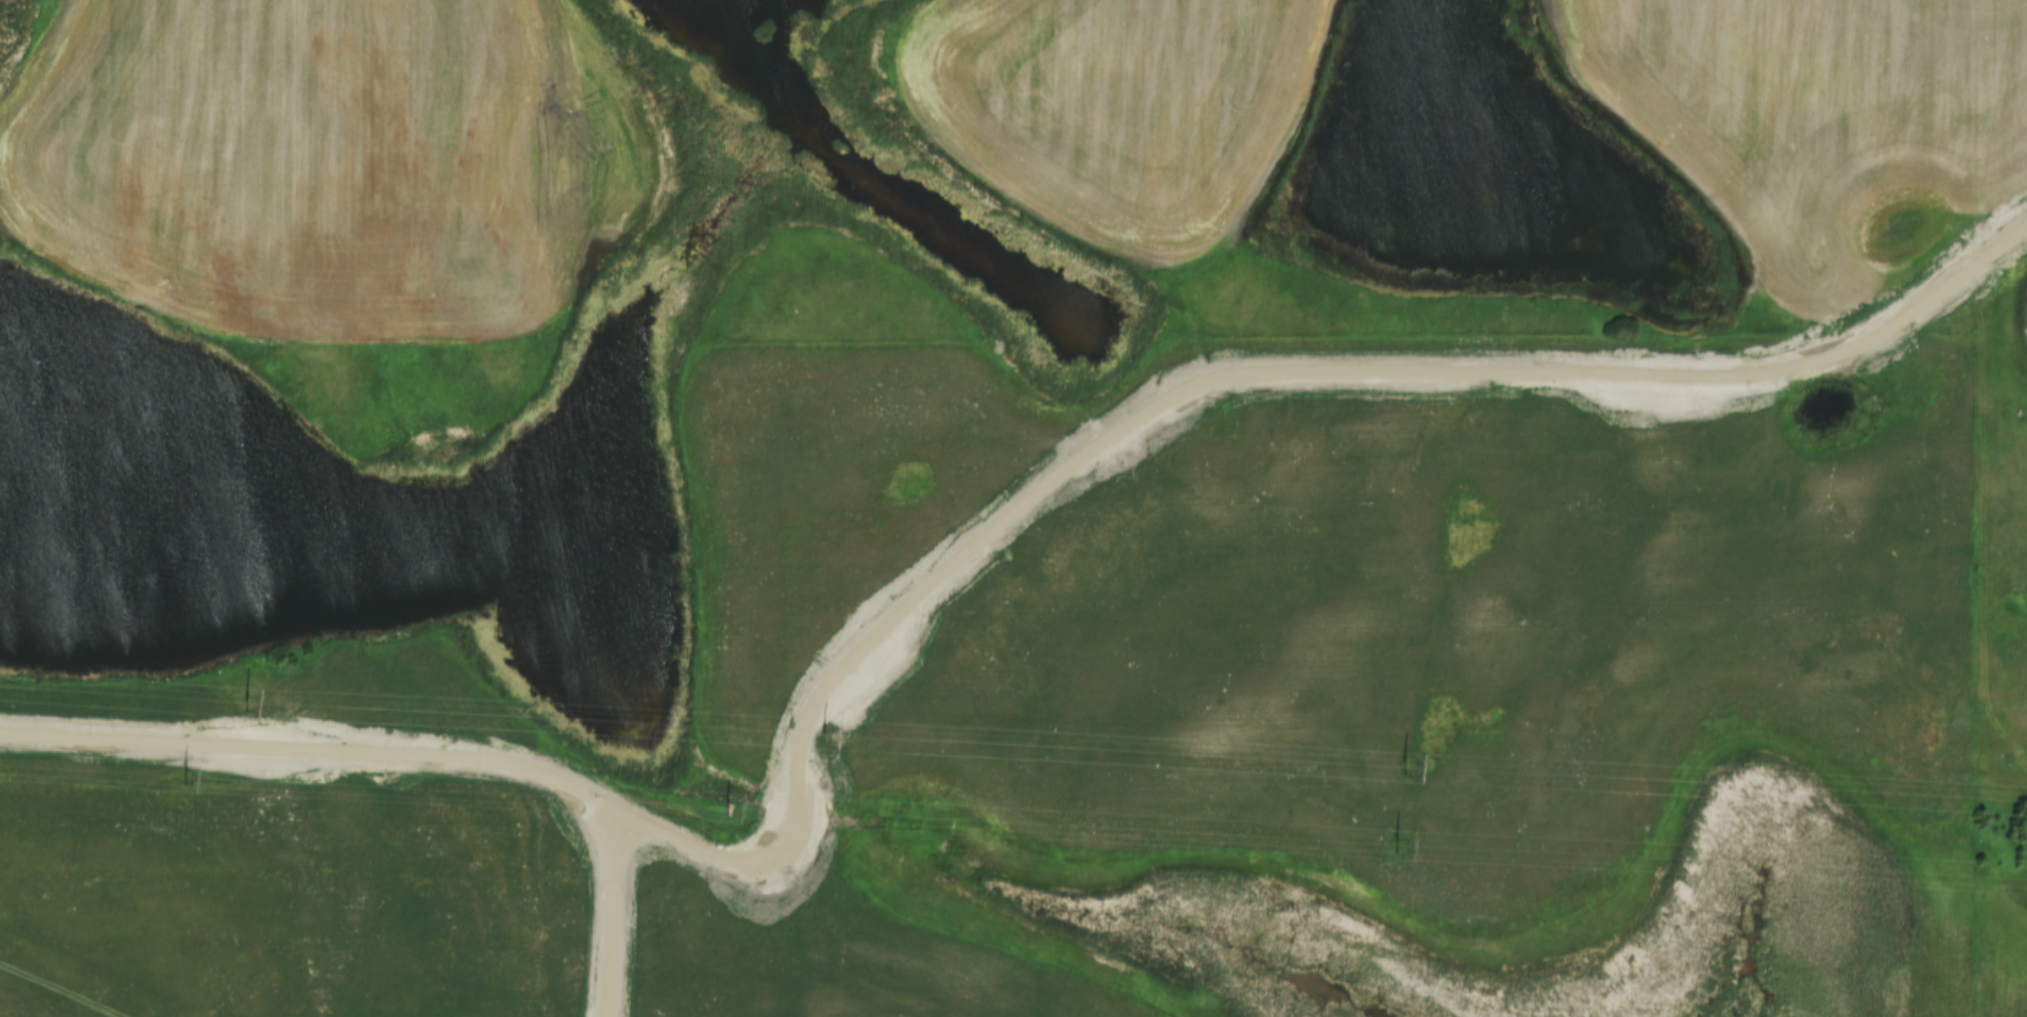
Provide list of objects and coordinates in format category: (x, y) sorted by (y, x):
power tower: (181, 780)
power tower: (725, 809)
power tower: (1392, 845)

